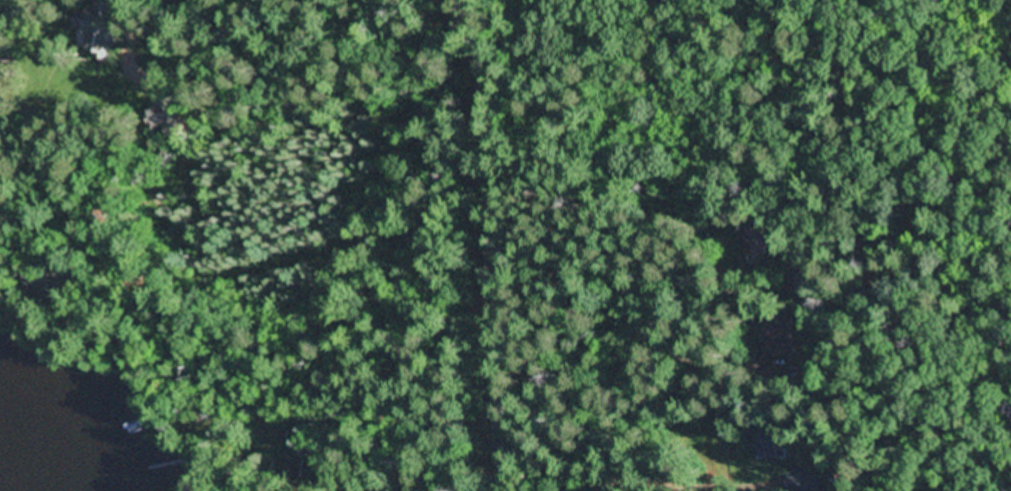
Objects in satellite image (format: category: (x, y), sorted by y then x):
building: (102, 28)
road: (255, 54)
building: (5, 101)
building: (171, 118)
road: (498, 242)
building: (756, 242)
building: (166, 275)
building: (797, 285)
building: (49, 287)
building: (781, 336)
building: (283, 435)
building: (765, 443)
building: (293, 472)
building: (804, 481)

